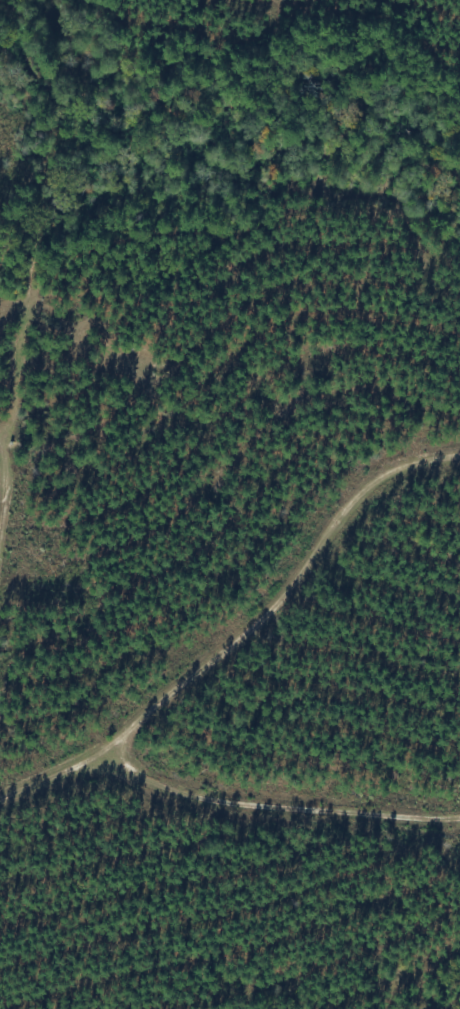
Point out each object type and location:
road: (286, 658)
road: (229, 797)

